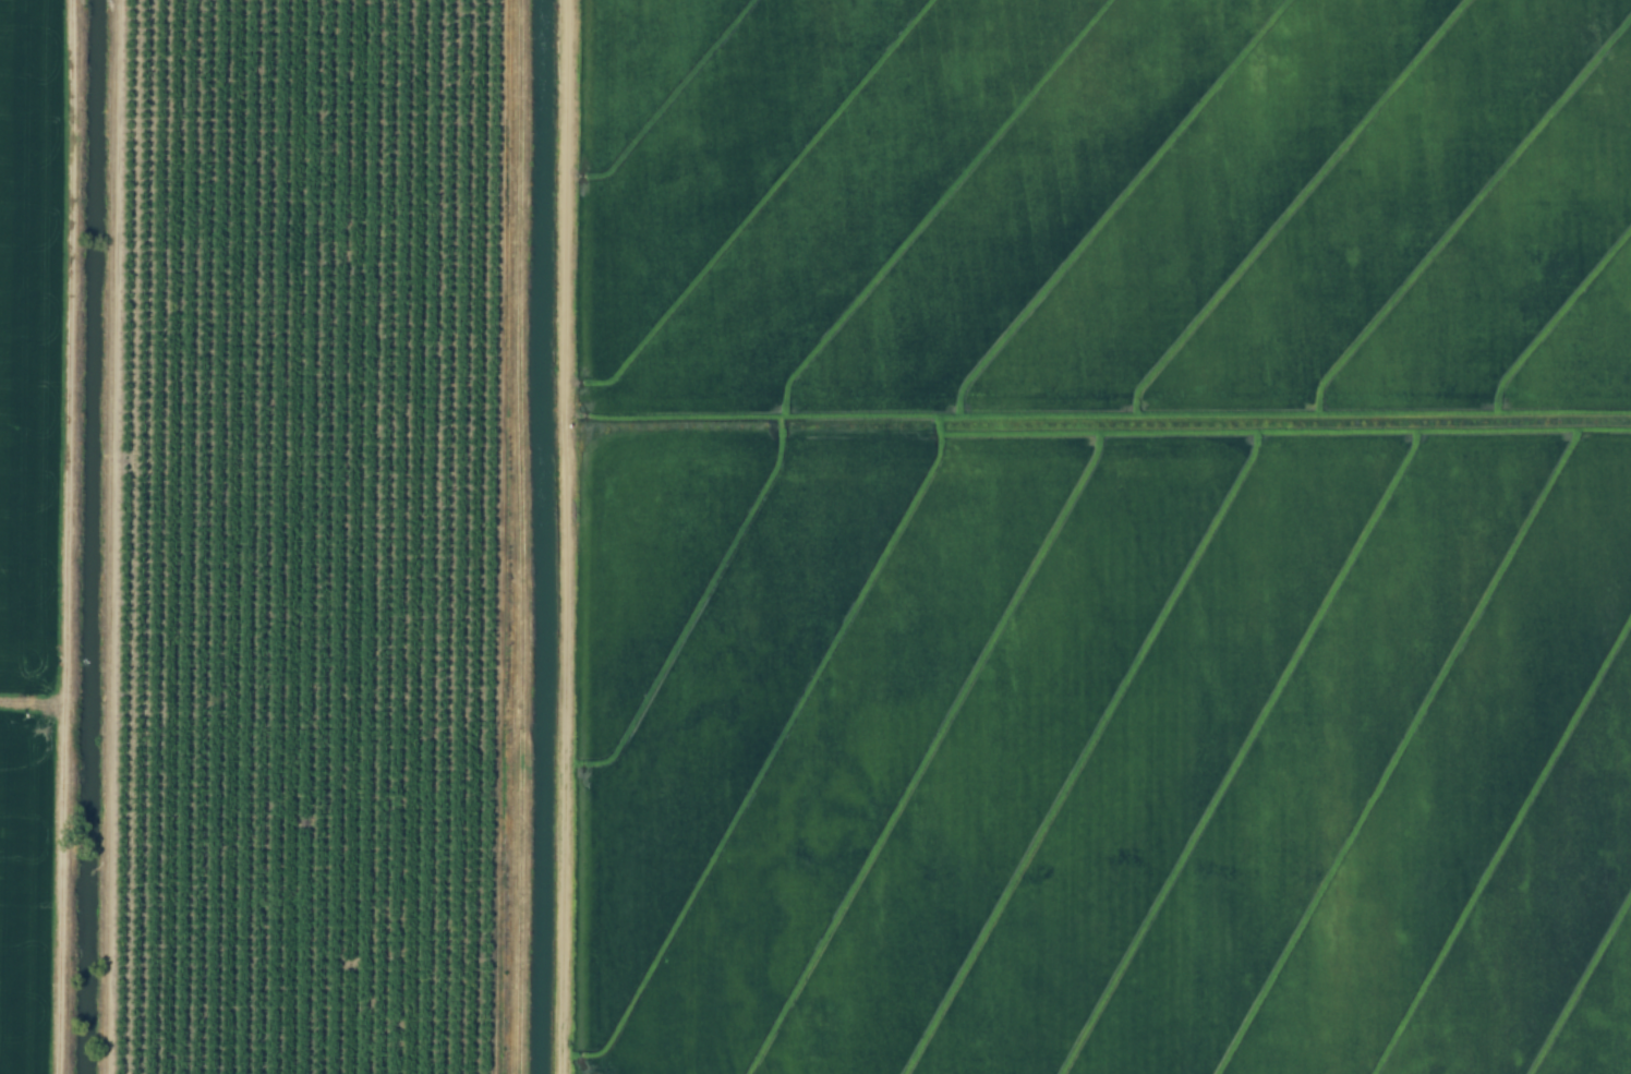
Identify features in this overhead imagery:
road: (63, 536)

